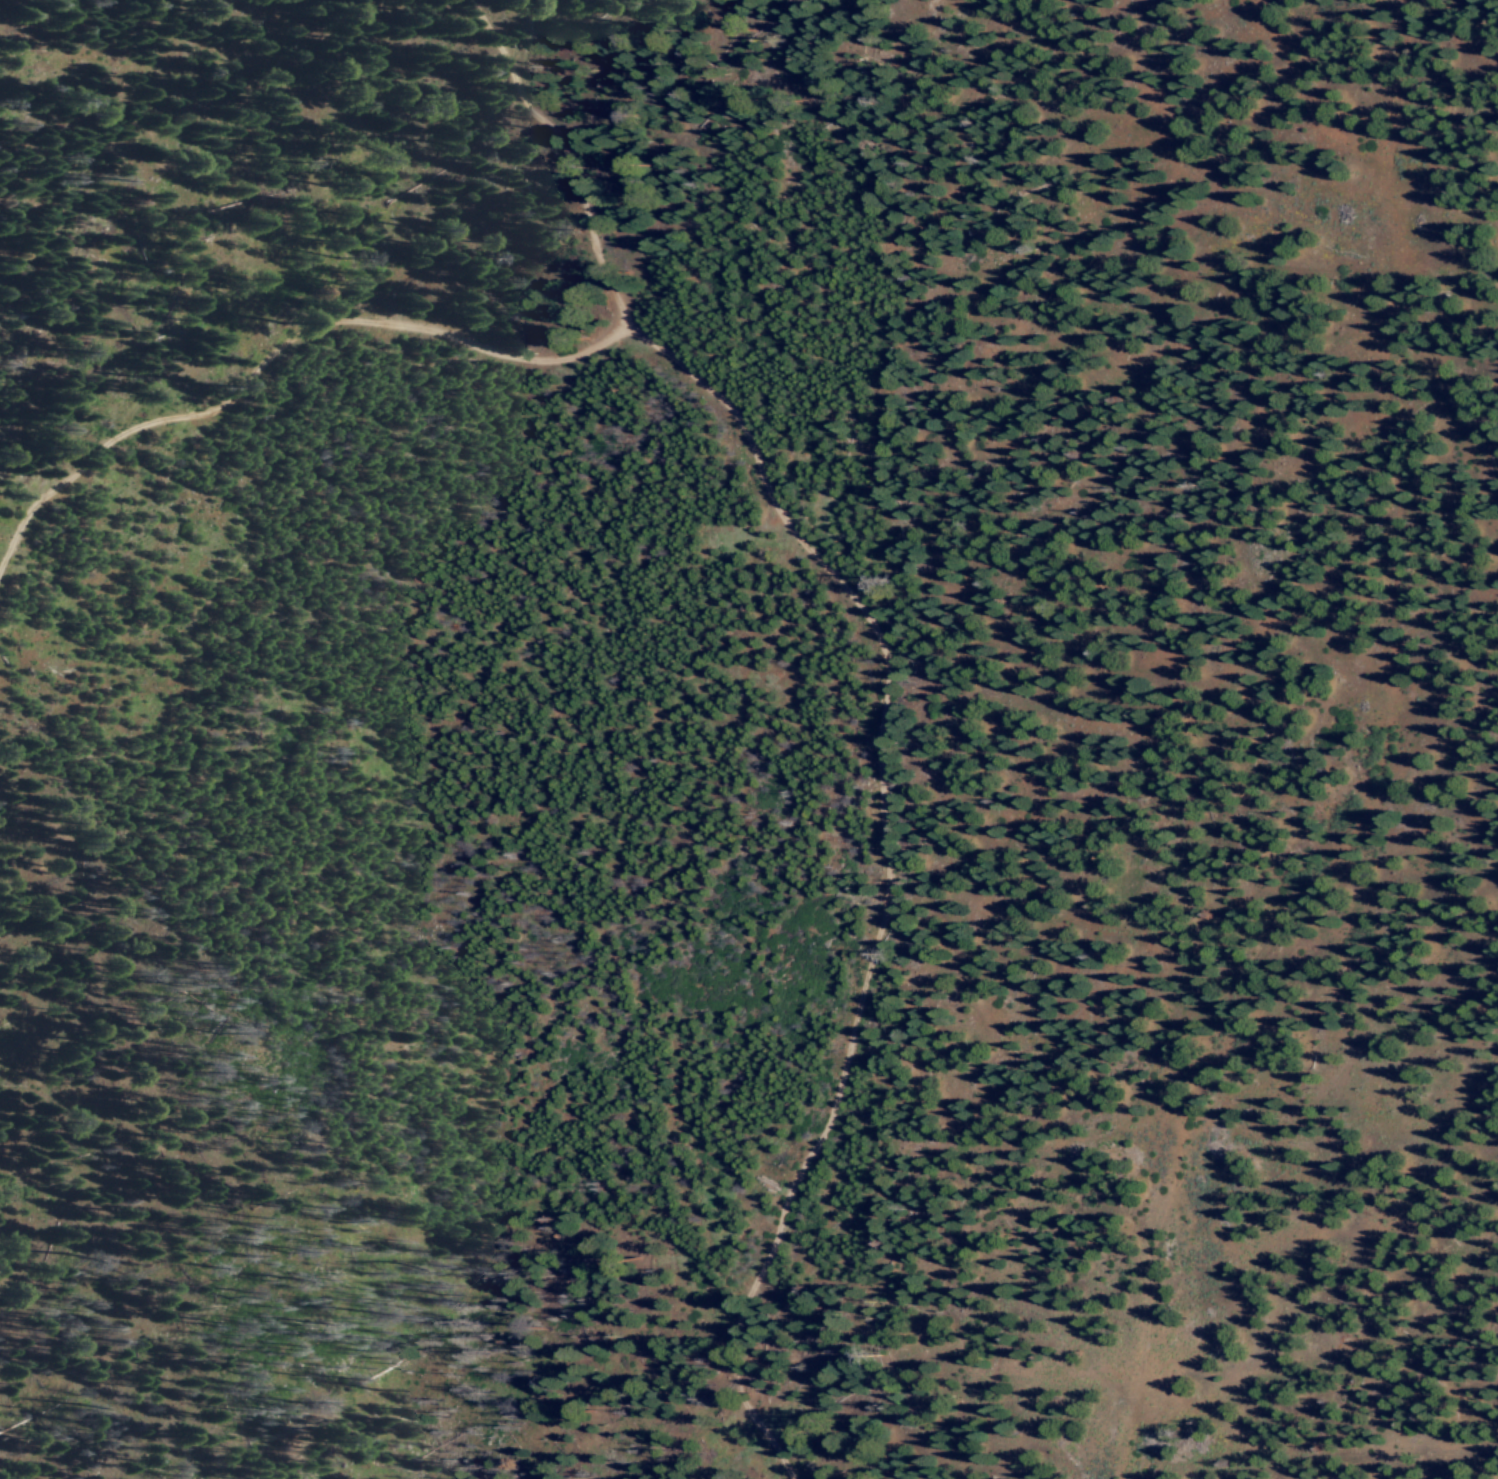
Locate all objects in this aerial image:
road: (447, 325)
road: (886, 870)

